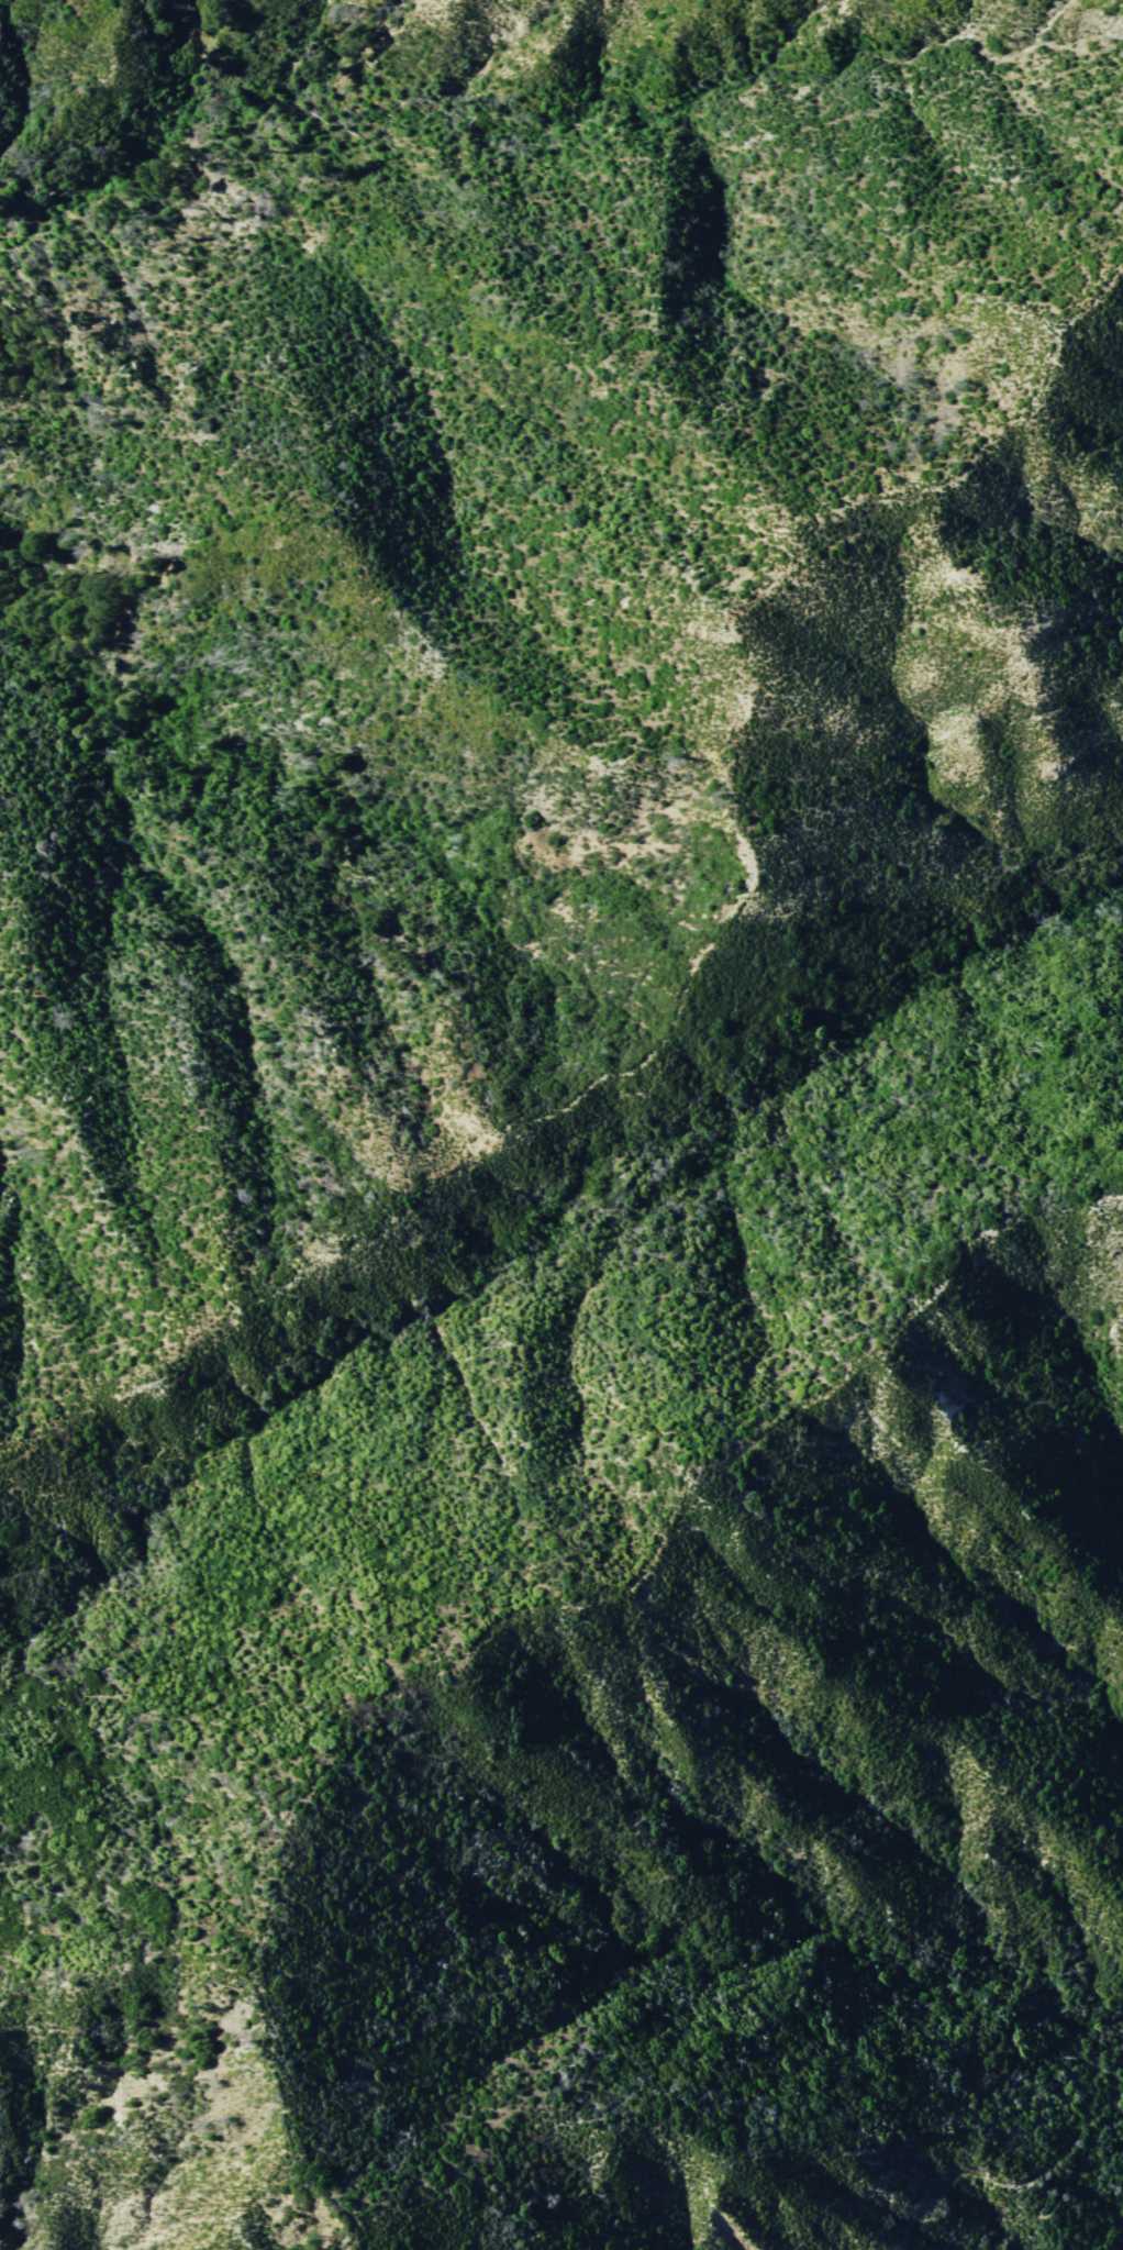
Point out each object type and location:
road: (1064, 2204)

